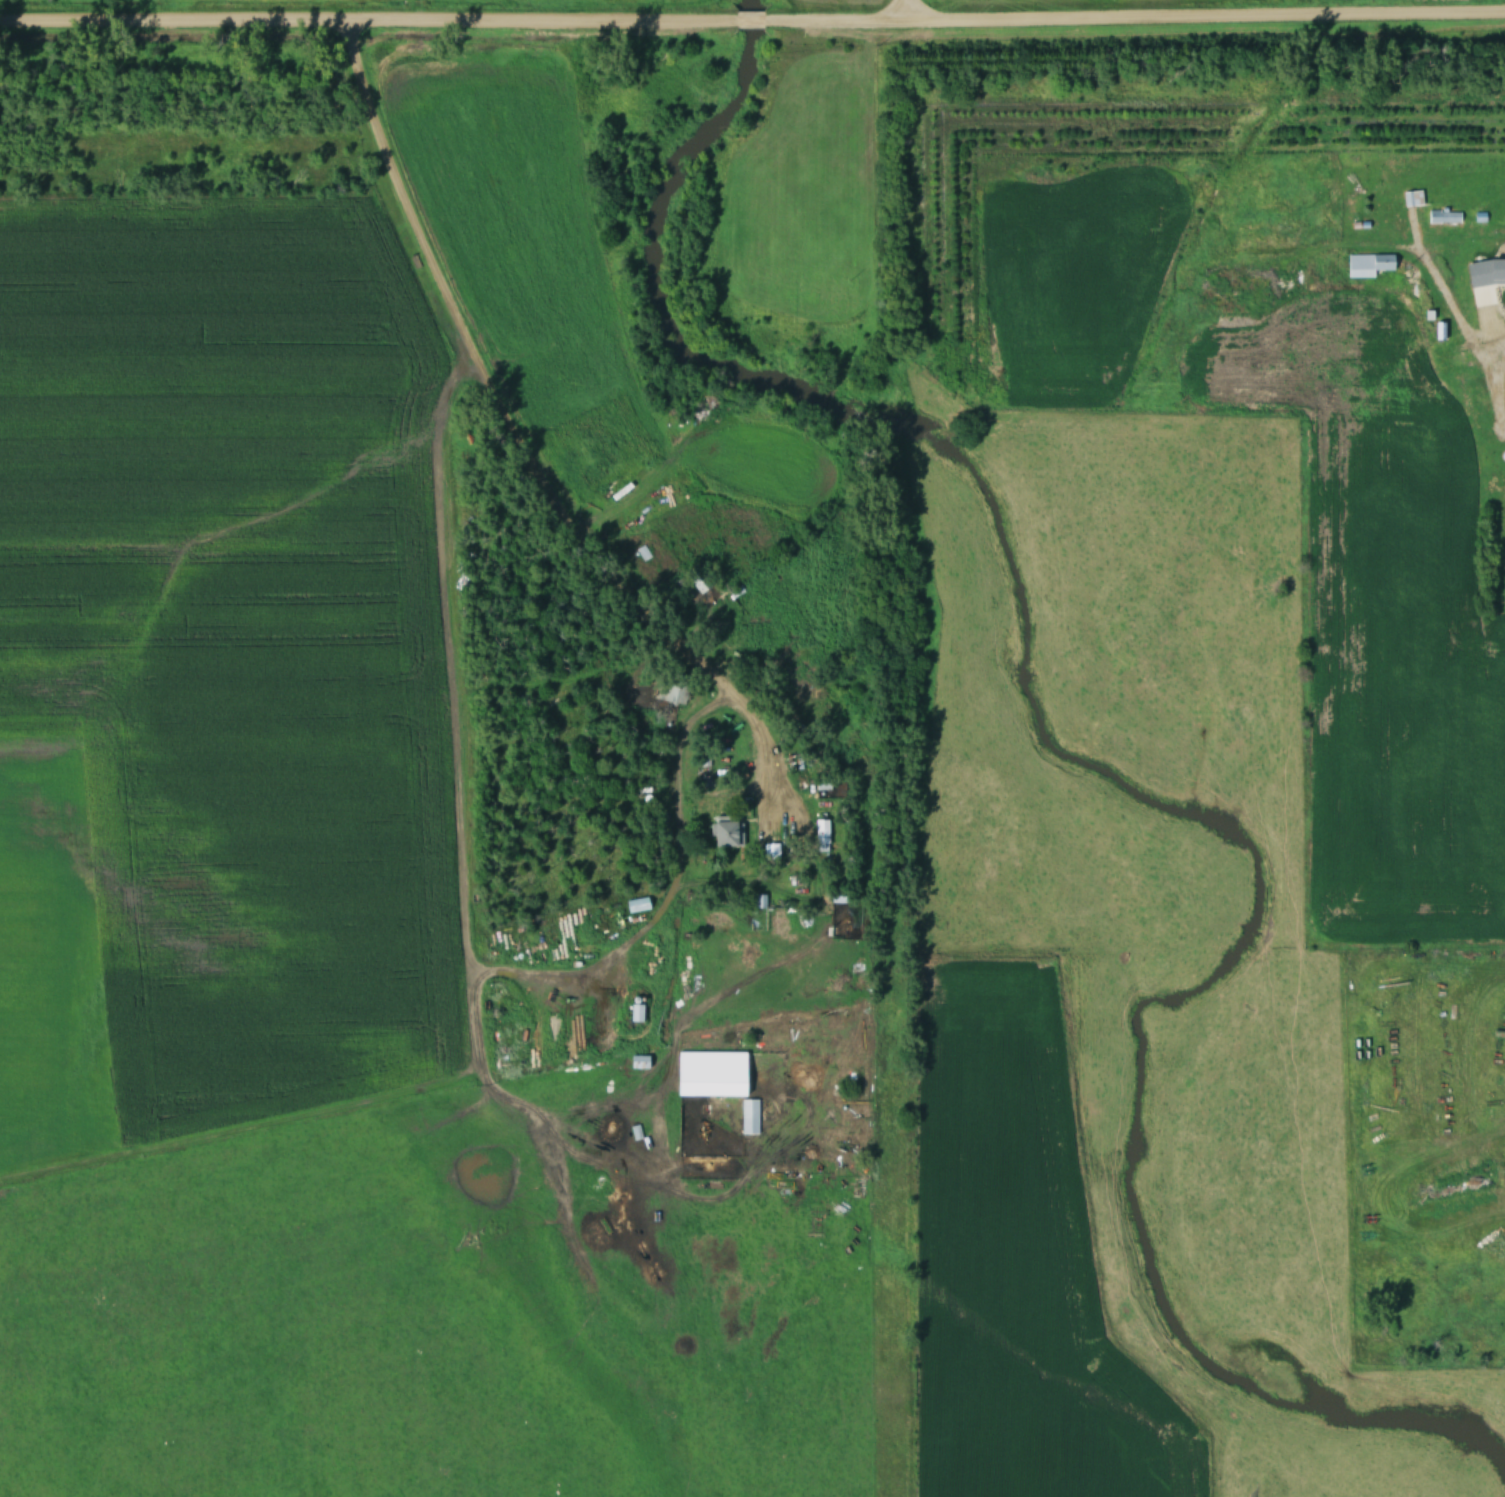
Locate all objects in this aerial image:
road: (908, 9)
road: (1134, 15)
road: (367, 18)
road: (749, 19)
building: (1415, 196)
building: (1443, 214)
building: (1367, 264)
building: (1498, 268)
road: (1484, 319)
building: (1439, 330)
building: (1501, 418)
road: (523, 450)
building: (698, 578)
building: (682, 588)
building: (725, 831)
building: (820, 834)
building: (837, 896)
building: (752, 906)

